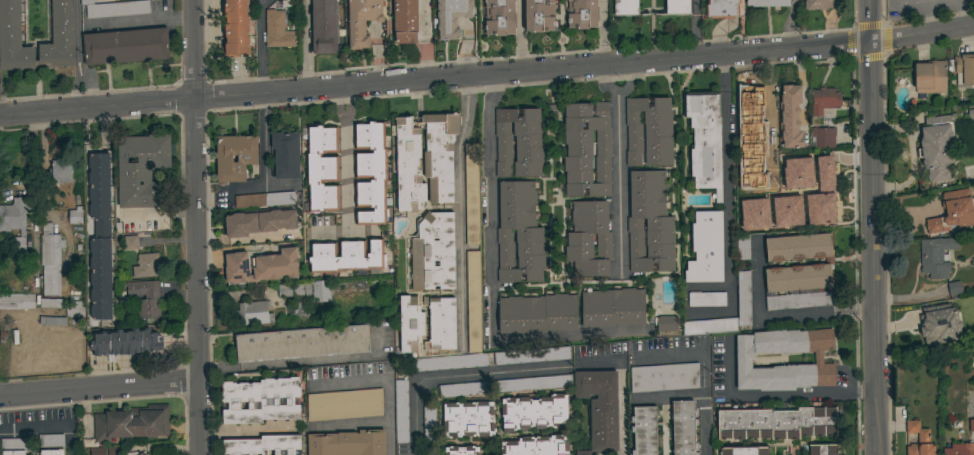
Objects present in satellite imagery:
road: (964, 2)
building: (767, 3)
building: (818, 4)
road: (939, 4)
parking lot: (917, 6)
building: (677, 7)
building: (115, 8)
building: (626, 8)
road: (936, 8)
building: (722, 9)
building: (582, 14)
building: (539, 15)
building: (452, 17)
building: (499, 17)
road: (137, 18)
building: (362, 21)
building: (405, 21)
road: (829, 22)
road: (927, 22)
road: (795, 25)
building: (324, 26)
building: (236, 28)
road: (695, 29)
building: (277, 30)
road: (603, 32)
road: (519, 36)
building: (60, 37)
building: (13, 39)
road: (424, 40)
road: (305, 45)
building: (126, 46)
road: (260, 47)
road: (77, 55)
building: (965, 68)
road: (487, 74)
building: (930, 77)
building: (824, 100)
building: (756, 107)
building: (971, 116)
building: (790, 117)
building: (649, 132)
building: (766, 137)
building: (823, 137)
building: (705, 140)
road: (262, 141)
building: (518, 142)
building: (937, 147)
building: (587, 149)
building: (286, 154)
building: (247, 158)
road: (344, 158)
building: (424, 159)
road: (619, 161)
building: (794, 162)
building: (819, 166)
building: (321, 168)
building: (61, 171)
building: (143, 171)
building: (371, 173)
road: (43, 177)
road: (727, 178)
building: (471, 193)
building: (264, 199)
building: (789, 200)
building: (749, 202)
road: (458, 209)
building: (952, 212)
building: (819, 214)
building: (75, 216)
road: (159, 217)
building: (276, 220)
building: (15, 223)
building: (649, 223)
building: (240, 224)
road: (198, 227)
road: (870, 227)
road: (492, 230)
building: (519, 233)
building: (100, 236)
building: (589, 239)
building: (131, 242)
building: (743, 247)
building: (706, 248)
building: (433, 253)
building: (345, 256)
building: (936, 256)
building: (50, 260)
building: (147, 265)
building: (261, 266)
building: (798, 271)
building: (954, 287)
building: (297, 289)
building: (284, 290)
building: (317, 290)
building: (743, 295)
building: (145, 299)
building: (706, 299)
building: (16, 301)
building: (473, 302)
building: (52, 303)
building: (613, 307)
building: (74, 309)
building: (322, 310)
building: (300, 311)
building: (252, 312)
building: (538, 314)
road: (777, 315)
building: (52, 320)
building: (441, 323)
building: (666, 323)
building: (410, 324)
building: (939, 324)
building: (637, 331)
building: (126, 342)
building: (302, 343)
road: (690, 353)
building: (744, 358)
road: (303, 361)
building: (449, 362)
road: (457, 377)
building: (664, 378)
road: (386, 379)
building: (533, 384)
road: (621, 386)
road: (100, 388)
building: (463, 389)
road: (772, 394)
road: (668, 396)
building: (261, 400)
building: (344, 404)
building: (600, 408)
building: (401, 411)
building: (534, 412)
building: (468, 419)
building: (777, 422)
building: (132, 423)
road: (351, 423)
road: (704, 424)
building: (429, 425)
building: (971, 425)
building: (684, 427)
road: (47, 430)
building: (644, 431)
building: (918, 439)
building: (51, 440)
building: (348, 443)
building: (263, 445)
building: (13, 446)
building: (536, 446)
building: (823, 449)
building: (959, 449)
building: (112, 450)
building: (97, 451)
building: (460, 451)
building: (744, 451)
building: (52, 452)
building: (135, 453)

